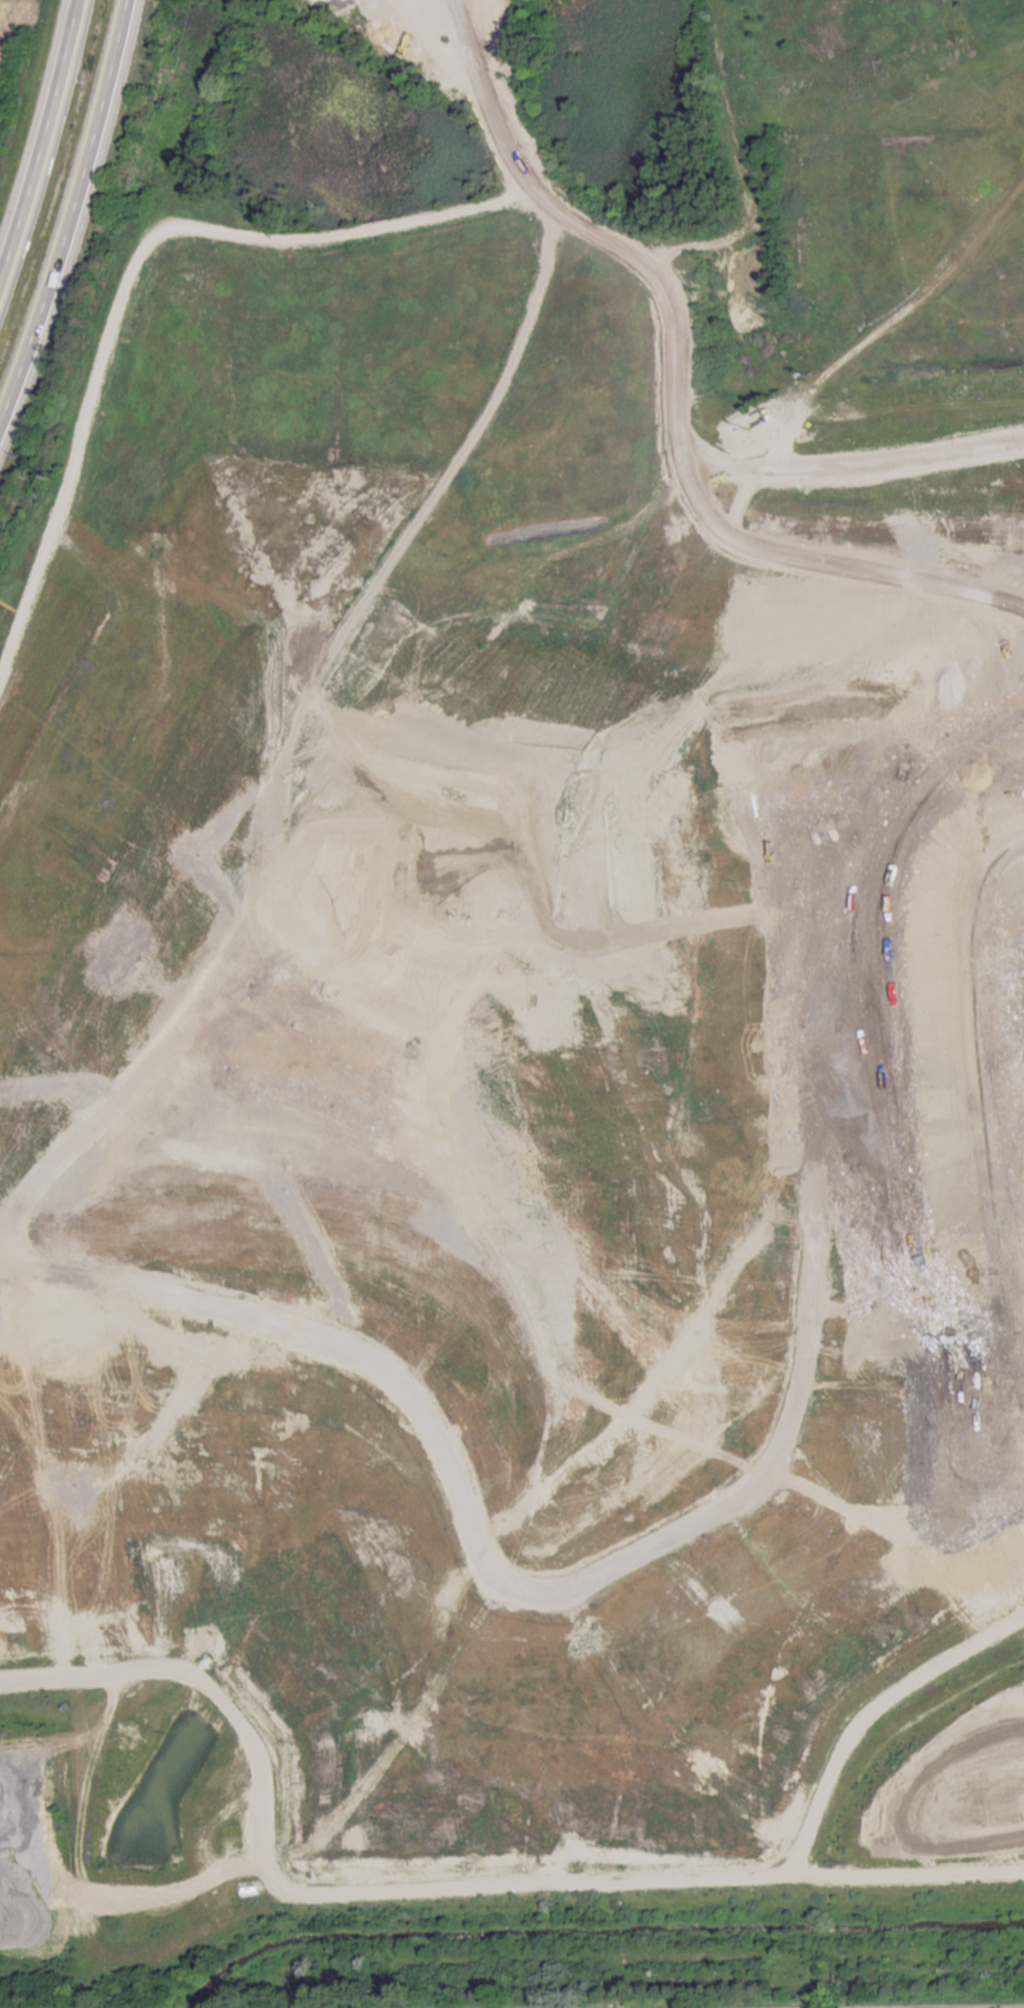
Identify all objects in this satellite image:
road: (495, 100)
road: (47, 155)
road: (73, 209)
road: (889, 325)
landfill: (522, 1006)

